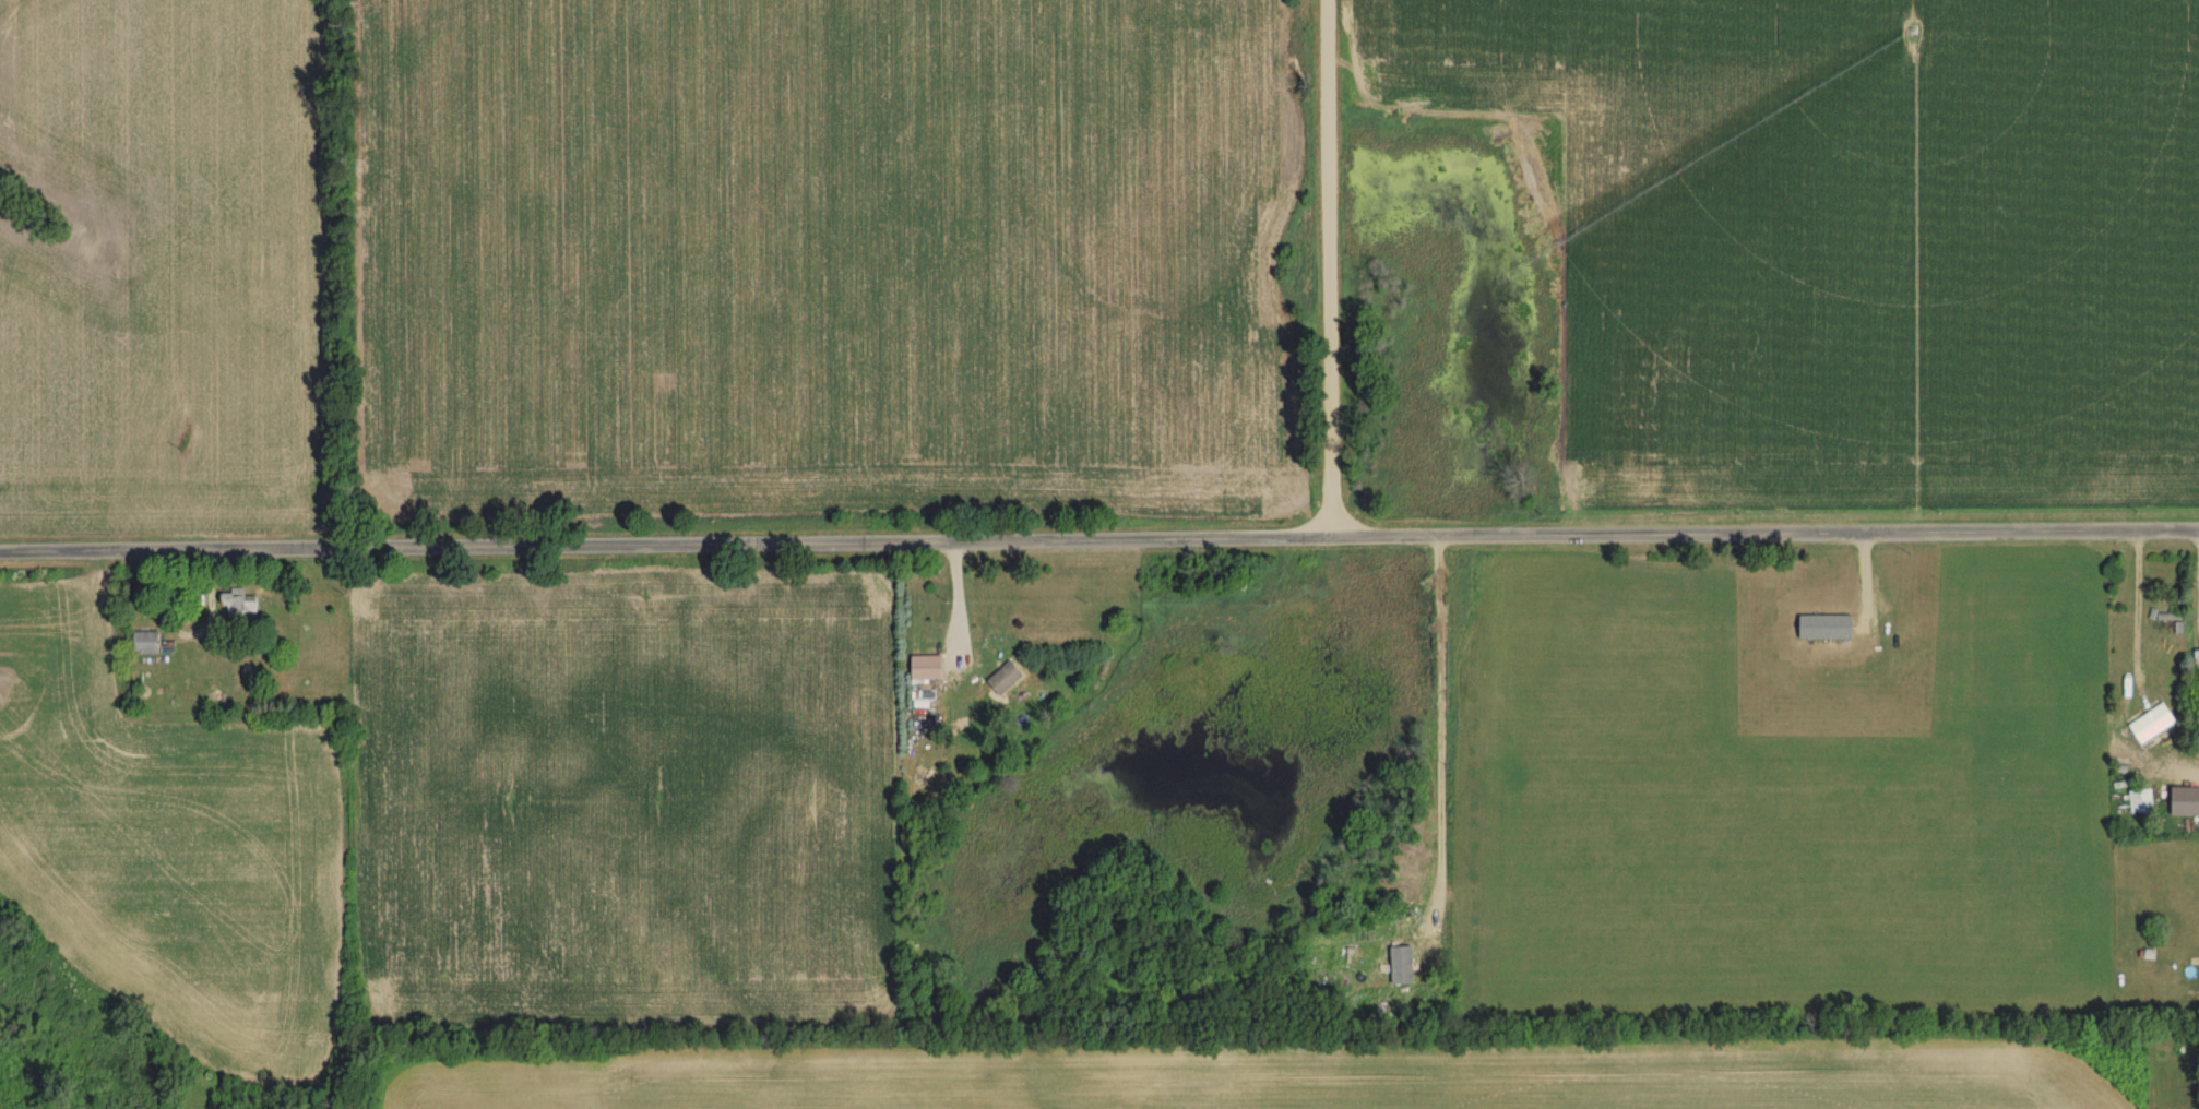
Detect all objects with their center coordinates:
road: (1330, 270)
road: (1098, 541)
road: (959, 599)
building: (243, 601)
building: (152, 640)
building: (2194, 666)
building: (920, 669)
building: (999, 680)
building: (2148, 725)
road: (1458, 736)
building: (1404, 969)

